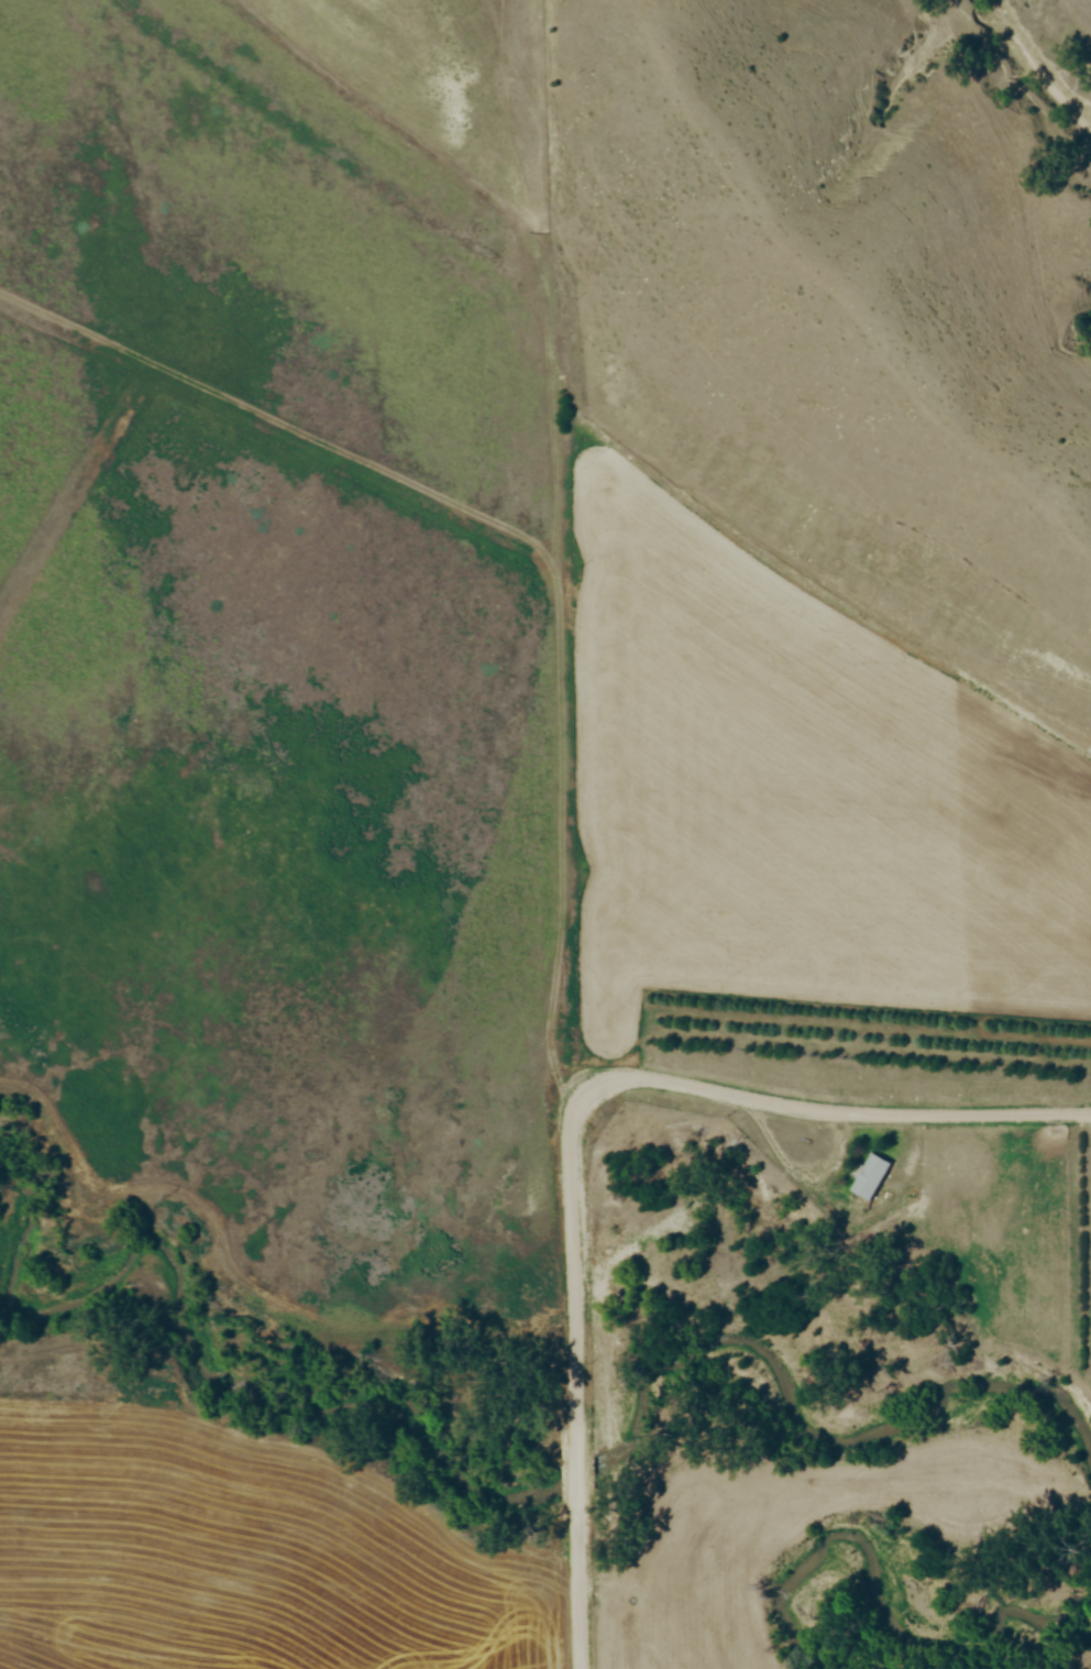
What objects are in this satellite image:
road: (801, 1112)
building: (871, 1178)
road: (577, 1308)
road: (577, 1473)
road: (578, 1580)

